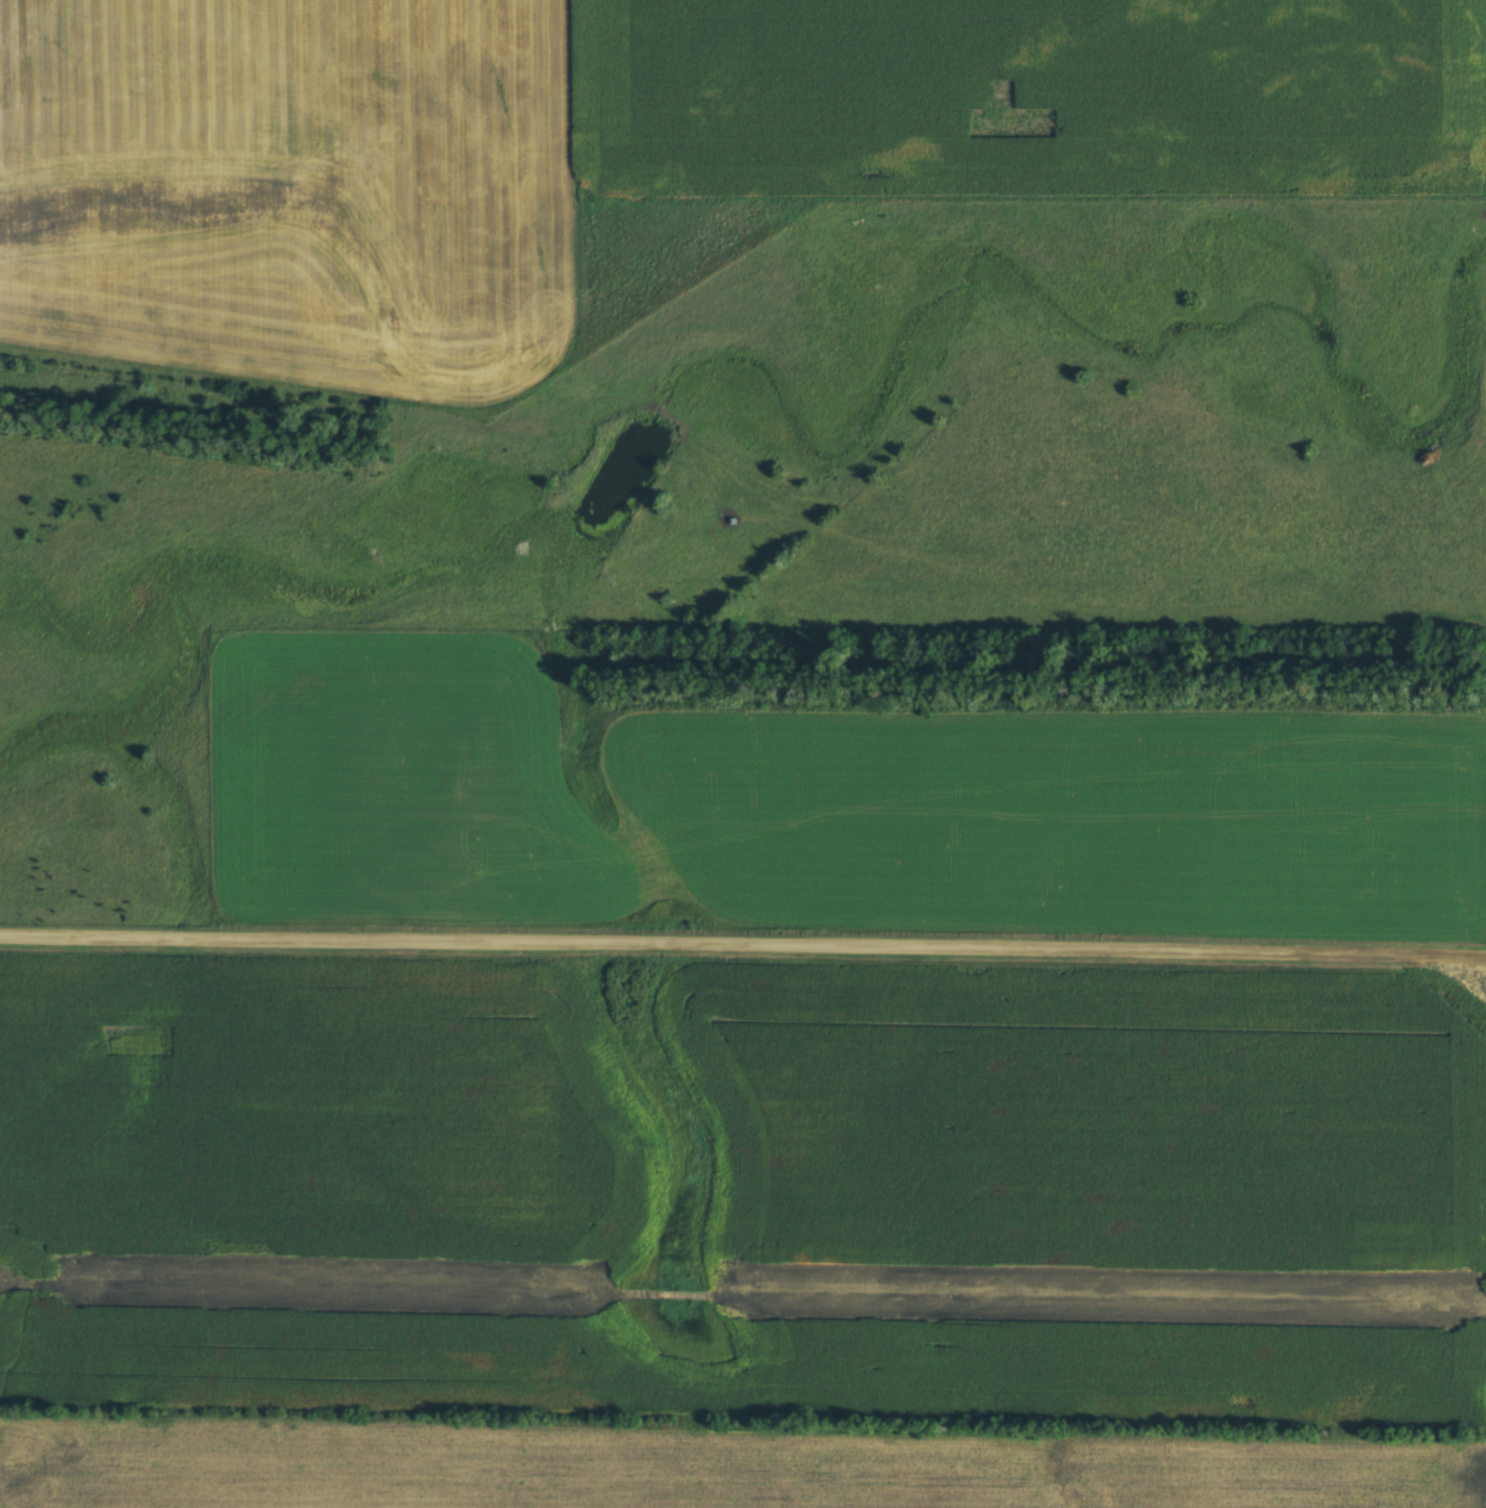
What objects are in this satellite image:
road: (743, 951)

